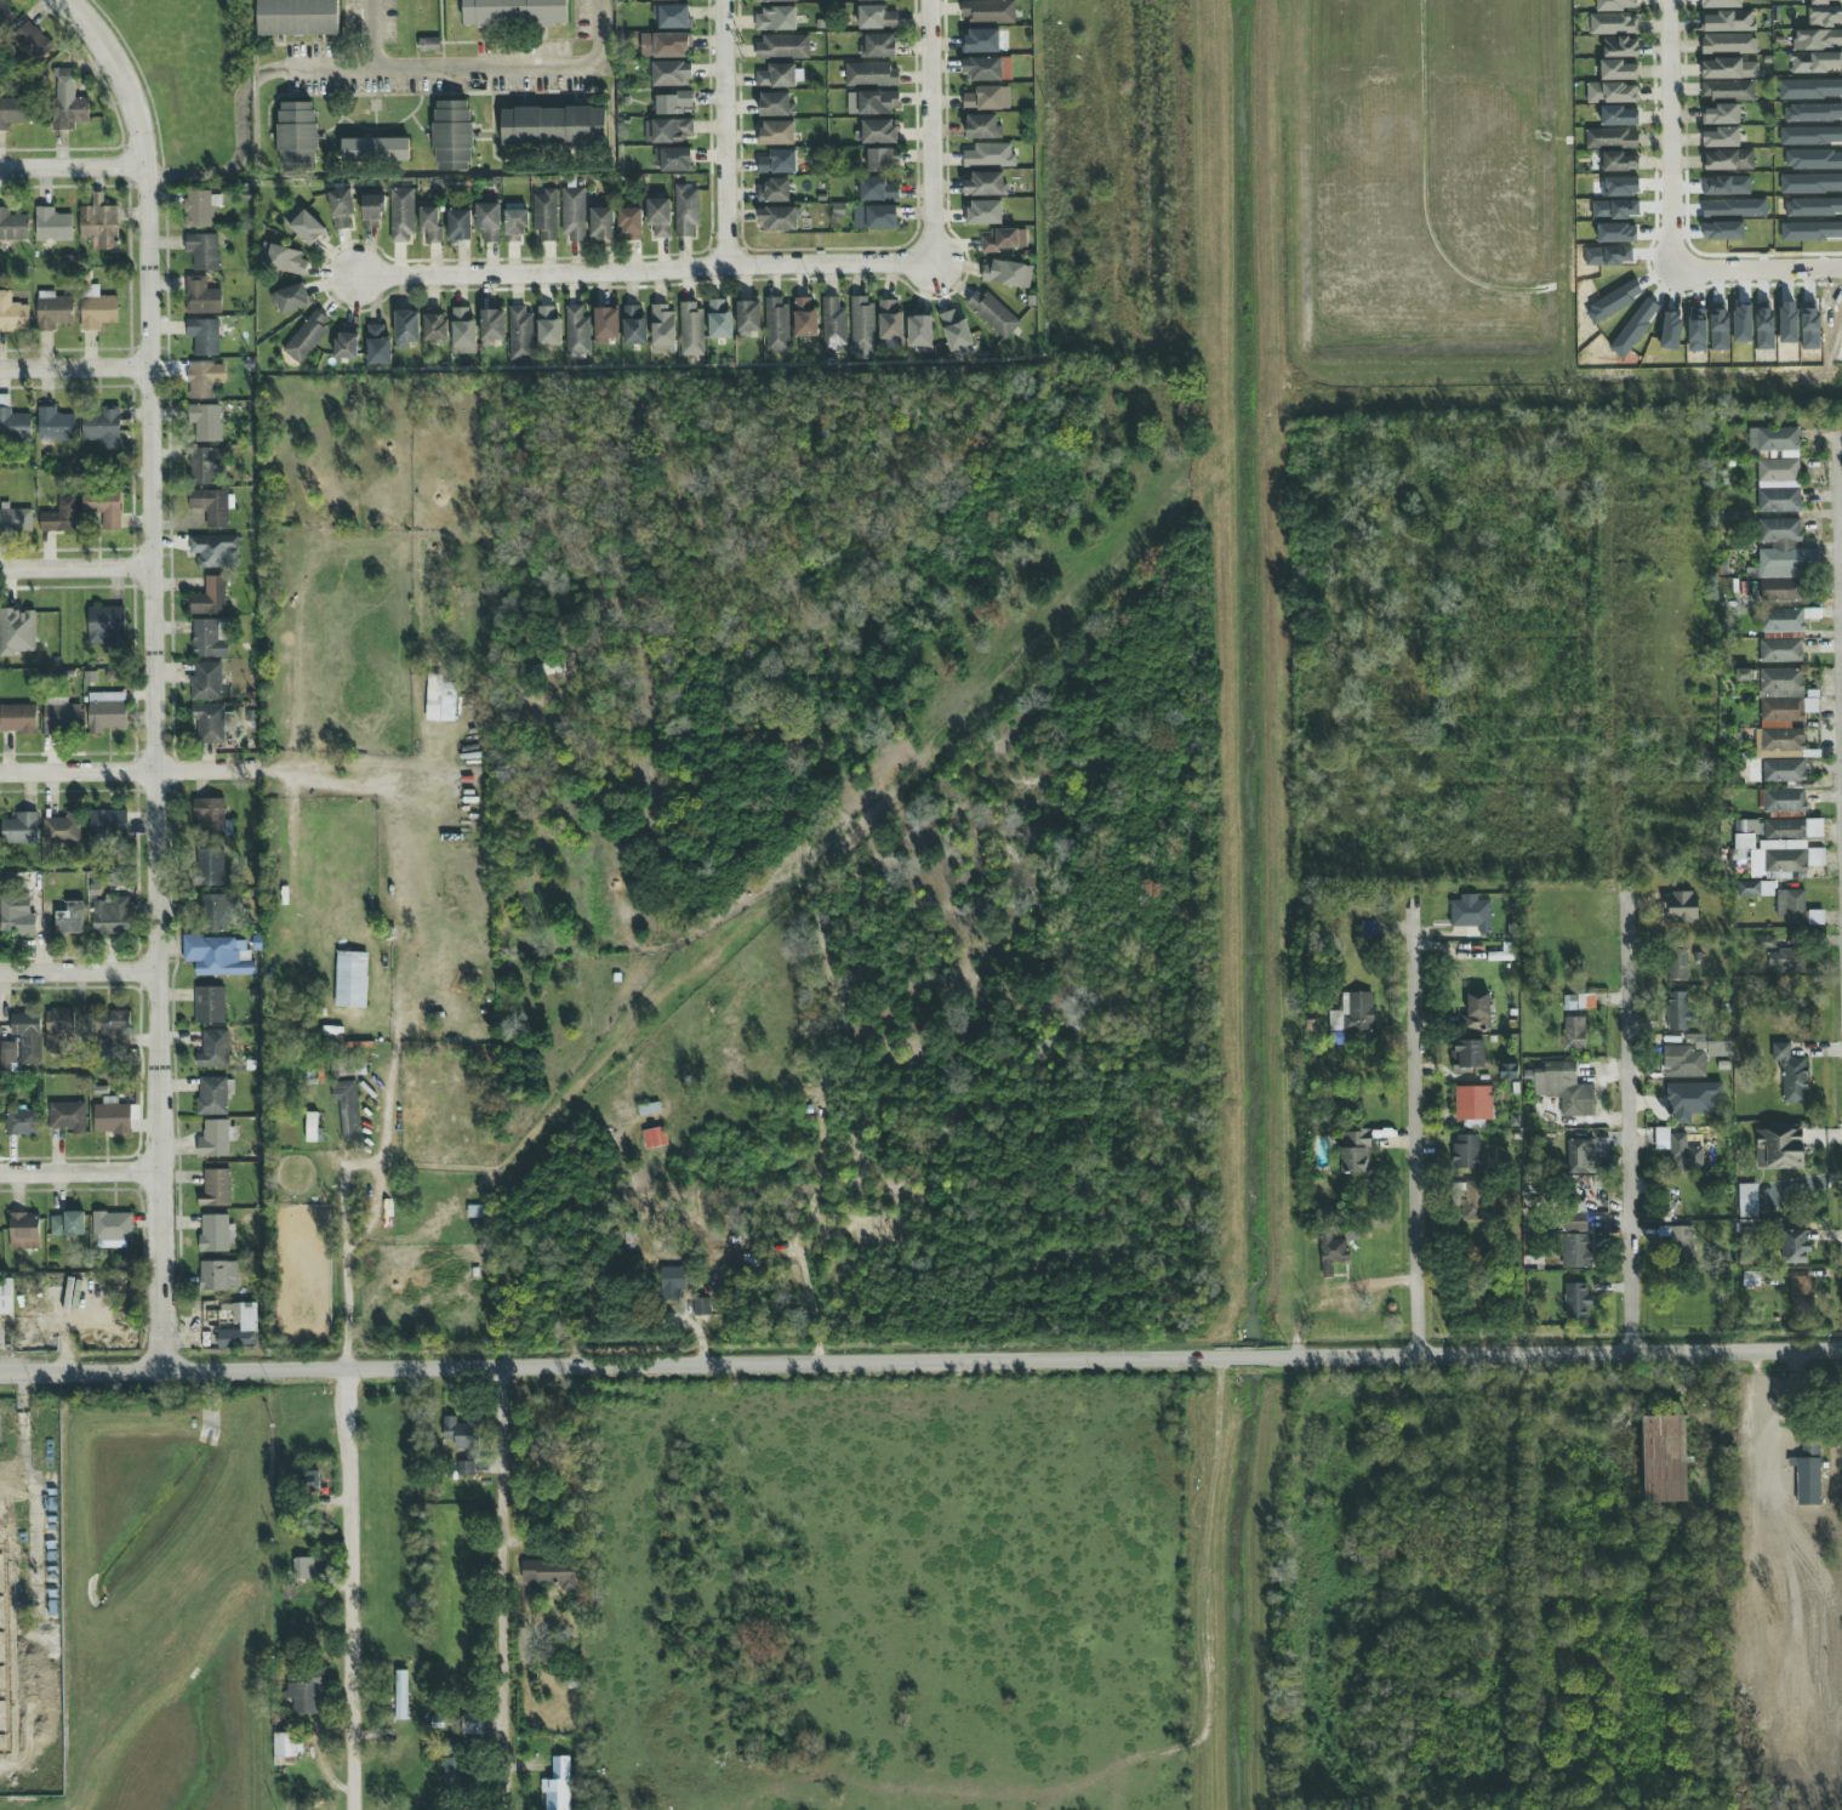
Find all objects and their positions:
building: (663, 0)
building: (772, 0)
building: (873, 0)
building: (1825, 1)
building: (1720, 4)
building: (1615, 5)
building: (6, 12)
building: (987, 12)
building: (515, 13)
building: (297, 17)
building: (672, 17)
building: (876, 17)
building: (1825, 17)
building: (775, 19)
building: (1729, 22)
building: (1613, 24)
road: (371, 34)
building: (981, 40)
building: (1818, 40)
building: (29, 41)
building: (1729, 44)
building: (429, 45)
building: (663, 46)
building: (878, 46)
building: (783, 47)
building: (1620, 47)
building: (1815, 62)
road: (454, 68)
building: (986, 69)
building: (1728, 69)
building: (1618, 70)
building: (671, 74)
building: (871, 74)
building: (779, 76)
road: (1666, 82)
building: (1728, 91)
building: (1610, 93)
building: (986, 98)
building: (672, 102)
building: (872, 102)
building: (67, 103)
building: (776, 104)
building: (11, 112)
building: (1721, 115)
building: (1618, 116)
building: (553, 126)
building: (981, 126)
building: (668, 130)
building: (877, 131)
road: (930, 131)
road: (722, 132)
building: (775, 132)
building: (296, 136)
building: (452, 136)
building: (1722, 138)
building: (1612, 140)
building: (375, 150)
building: (990, 155)
building: (673, 159)
building: (1728, 160)
building: (777, 163)
building: (1620, 163)
road: (74, 167)
building: (985, 184)
building: (877, 189)
building: (772, 190)
building: (199, 207)
building: (341, 207)
building: (371, 210)
building: (685, 210)
building: (983, 212)
building: (401, 214)
building: (572, 214)
building: (543, 215)
building: (658, 217)
building: (874, 217)
building: (776, 218)
building: (487, 221)
building: (429, 223)
building: (514, 223)
building: (600, 223)
building: (52, 224)
building: (98, 224)
building: (458, 224)
building: (631, 224)
building: (12, 226)
building: (304, 227)
building: (1004, 239)
building: (203, 251)
building: (281, 258)
road: (641, 271)
road: (1706, 272)
building: (1006, 274)
building: (201, 296)
building: (290, 298)
building: (96, 308)
building: (52, 311)
building: (12, 313)
building: (992, 314)
building: (747, 318)
building: (804, 318)
building: (719, 319)
building: (889, 320)
building: (434, 324)
building: (776, 324)
building: (833, 324)
building: (605, 325)
building: (491, 326)
building: (548, 326)
building: (633, 326)
building: (861, 326)
building: (406, 329)
building: (462, 329)
building: (662, 329)
building: (690, 329)
building: (919, 330)
building: (954, 330)
building: (519, 334)
building: (576, 334)
building: (204, 336)
building: (307, 337)
building: (346, 343)
building: (377, 346)
road: (76, 369)
building: (204, 380)
building: (13, 422)
building: (205, 422)
building: (55, 425)
building: (102, 428)
building: (206, 465)
building: (1777, 468)
building: (210, 506)
building: (103, 508)
building: (59, 517)
building: (16, 519)
building: (1780, 550)
building: (213, 551)
road: (1840, 558)
road: (78, 567)
building: (1783, 591)
building: (209, 597)
building: (1783, 621)
building: (105, 627)
building: (17, 631)
building: (210, 638)
building: (1780, 651)
road: (158, 675)
building: (206, 681)
building: (439, 699)
building: (105, 711)
building: (1780, 715)
building: (61, 717)
building: (17, 718)
building: (210, 723)
road: (131, 770)
building: (1784, 770)
building: (1784, 801)
building: (210, 816)
building: (107, 824)
building: (19, 829)
building: (62, 829)
building: (1792, 829)
building: (1746, 833)
building: (1784, 860)
building: (209, 866)
building: (1790, 906)
building: (1683, 907)
building: (216, 912)
building: (1470, 913)
building: (16, 916)
building: (110, 916)
building: (69, 918)
building: (1764, 943)
building: (218, 955)
building: (1787, 961)
building: (1677, 964)
road: (81, 972)
building: (350, 979)
building: (1579, 1002)
building: (209, 1004)
building: (1477, 1012)
building: (1678, 1012)
building: (1352, 1013)
building: (57, 1029)
building: (112, 1030)
building: (1574, 1034)
building: (27, 1036)
building: (213, 1049)
building: (7, 1053)
building: (1469, 1055)
building: (1695, 1055)
building: (348, 1065)
building: (1509, 1072)
building: (1791, 1074)
building: (1562, 1088)
building: (213, 1095)
building: (1692, 1100)
building: (1473, 1105)
building: (347, 1109)
building: (68, 1116)
building: (112, 1116)
building: (22, 1122)
road: (1627, 1125)
building: (312, 1128)
road: (1418, 1129)
building: (654, 1138)
building: (215, 1139)
building: (1779, 1148)
building: (1680, 1150)
building: (1355, 1152)
building: (1467, 1152)
building: (1580, 1156)
road: (81, 1172)
building: (215, 1189)
building: (1747, 1200)
building: (1576, 1223)
building: (67, 1224)
building: (112, 1225)
building: (23, 1230)
road: (800, 1231)
building: (217, 1233)
building: (1680, 1242)
building: (112, 1243)
building: (1795, 1245)
building: (1578, 1251)
building: (1331, 1253)
building: (1530, 1254)
building: (218, 1276)
building: (1751, 1279)
building: (673, 1281)
building: (5, 1297)
building: (1802, 1299)
building: (1576, 1302)
building: (701, 1307)
building: (238, 1326)
road: (920, 1361)
road: (28, 1429)
building: (462, 1435)
building: (1665, 1459)
road: (358, 1462)
building: (464, 1467)
building: (1808, 1476)
road: (42, 1521)
building: (307, 1567)
building: (549, 1573)
road: (507, 1589)
building: (400, 1695)
building: (306, 1696)
building: (472, 1724)
building: (454, 1776)
building: (558, 1786)

